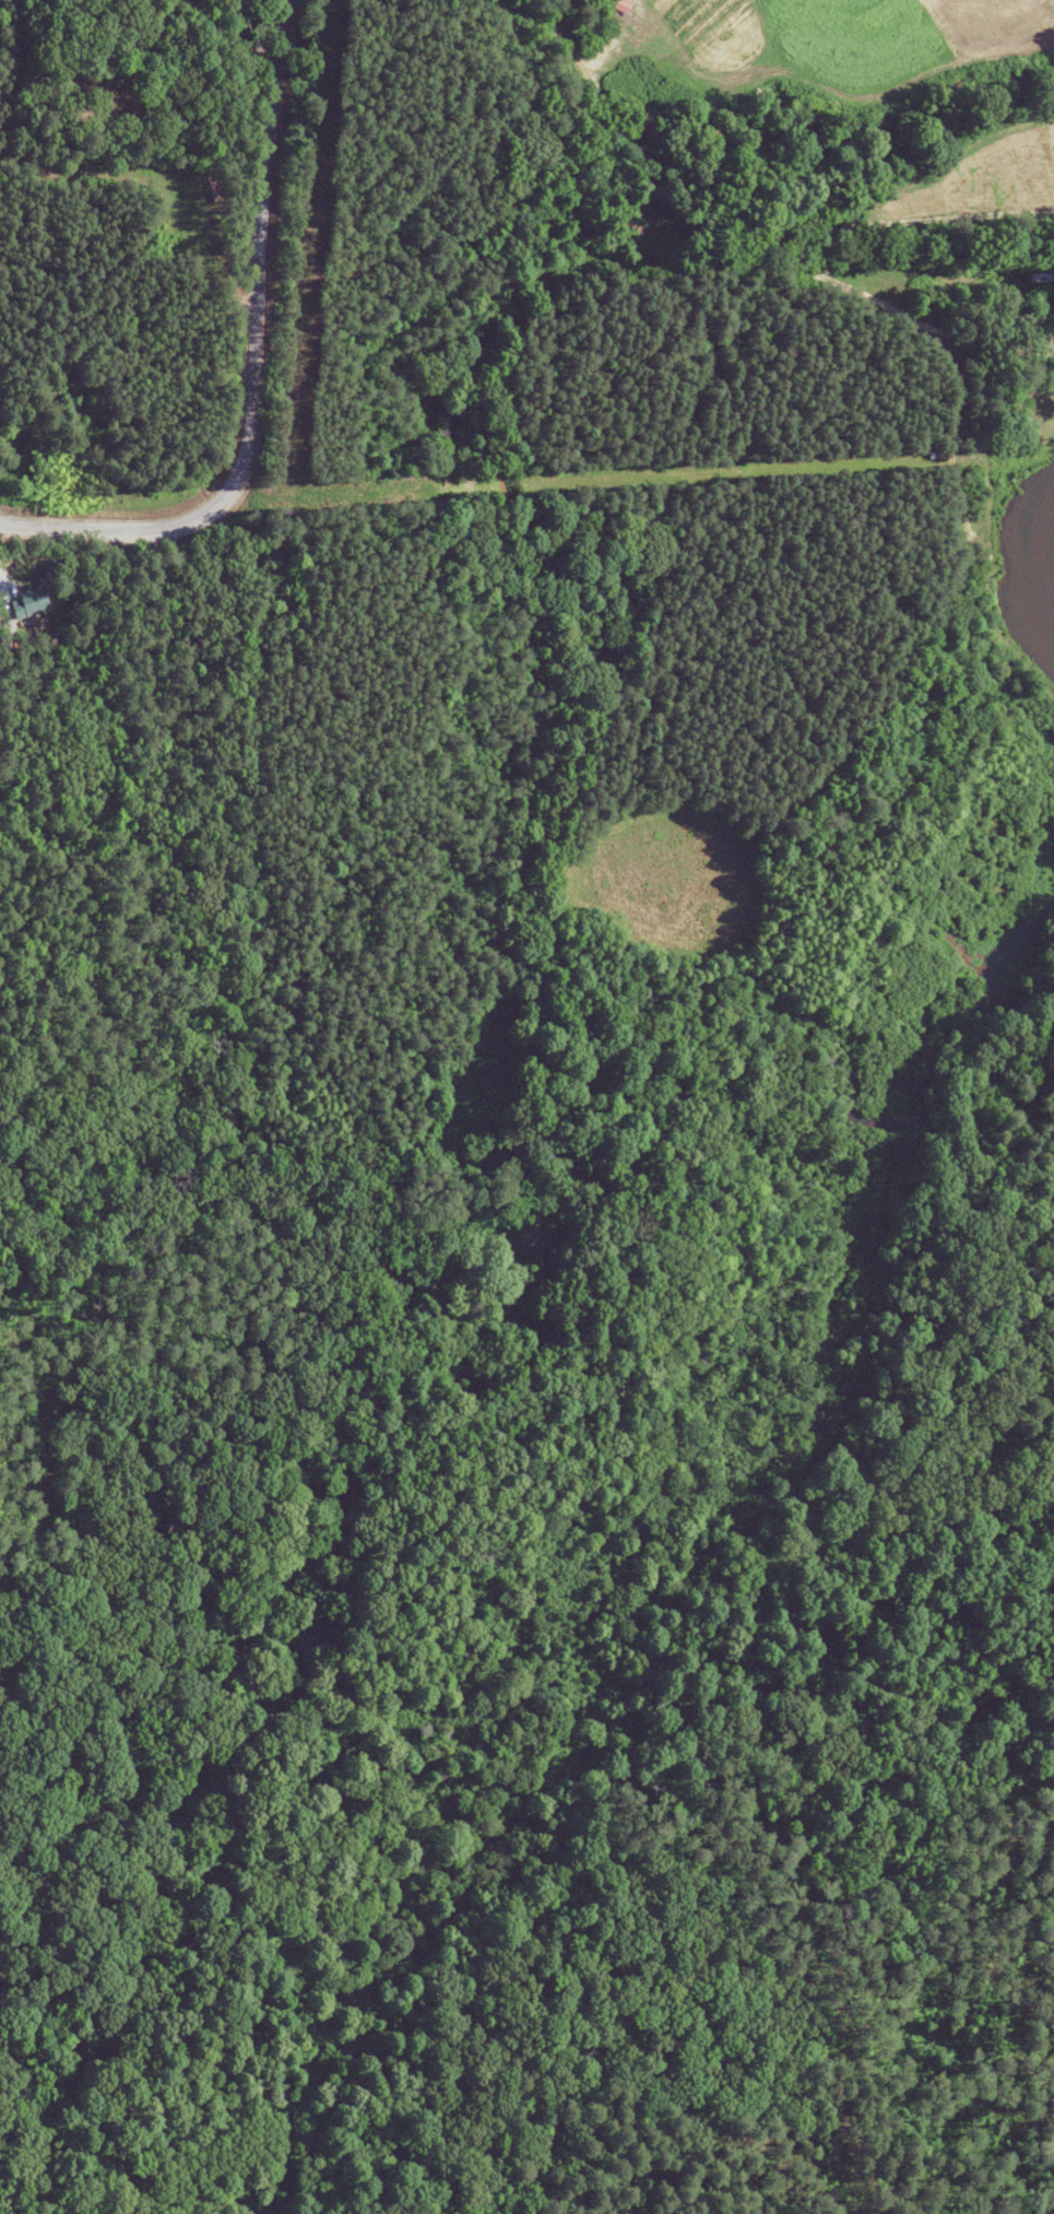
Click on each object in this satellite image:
road: (759, 234)
road: (250, 365)

